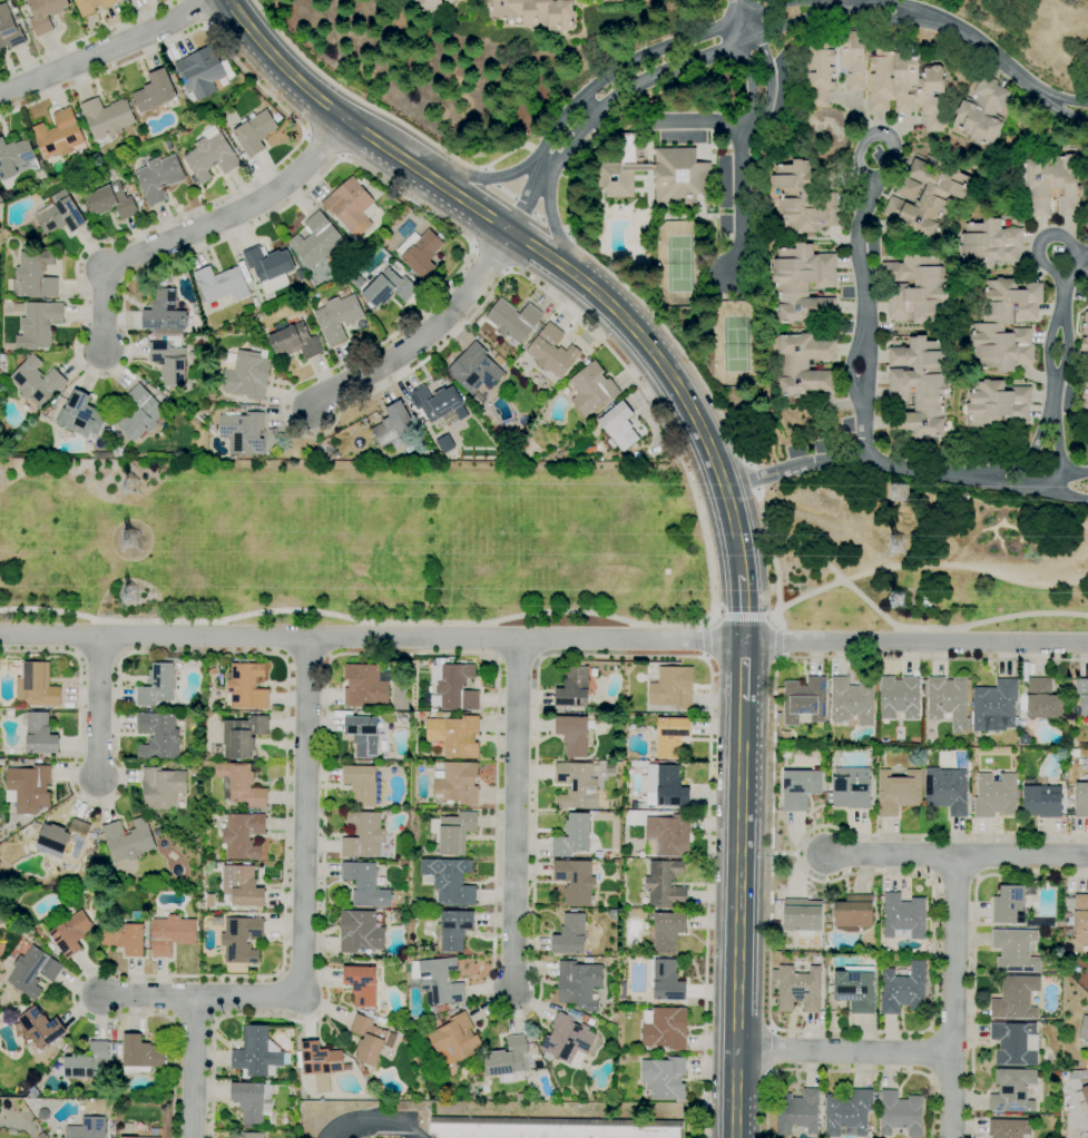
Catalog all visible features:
building: (445, 0)
building: (459, 0)
building: (450, 1)
building: (92, 6)
building: (427, 6)
building: (535, 12)
building: (45, 13)
road: (199, 13)
road: (736, 13)
road: (767, 19)
building: (9, 29)
road: (84, 38)
road: (106, 48)
building: (202, 71)
building: (819, 73)
building: (893, 80)
building: (154, 91)
road: (380, 110)
road: (761, 110)
building: (981, 112)
building: (276, 118)
building: (107, 119)
building: (253, 131)
building: (58, 135)
road: (530, 148)
building: (210, 155)
building: (13, 157)
road: (547, 160)
road: (540, 161)
road: (484, 169)
road: (562, 173)
building: (657, 175)
building: (159, 177)
building: (361, 179)
building: (1050, 183)
building: (131, 188)
building: (906, 188)
road: (741, 192)
building: (804, 198)
building: (932, 198)
building: (110, 202)
road: (523, 205)
building: (350, 206)
building: (61, 214)
road: (198, 227)
road: (569, 235)
building: (316, 241)
building: (989, 244)
road: (536, 248)
building: (421, 252)
park: (680, 264)
building: (268, 267)
building: (35, 275)
building: (300, 275)
building: (222, 284)
building: (803, 284)
building: (915, 286)
building: (386, 287)
road: (861, 303)
building: (165, 314)
road: (651, 314)
building: (337, 317)
building: (513, 320)
building: (38, 325)
building: (988, 326)
building: (1082, 334)
road: (425, 335)
building: (293, 341)
park: (734, 343)
building: (551, 352)
road: (1058, 355)
building: (170, 360)
building: (804, 365)
building: (477, 369)
building: (247, 375)
road: (315, 377)
building: (36, 384)
building: (591, 389)
building: (919, 389)
building: (164, 392)
building: (432, 402)
building: (1085, 402)
building: (996, 404)
building: (58, 406)
building: (478, 411)
building: (140, 414)
building: (80, 415)
building: (392, 425)
building: (618, 428)
building: (269, 431)
building: (106, 432)
building: (243, 433)
building: (114, 438)
building: (634, 445)
building: (102, 454)
building: (636, 455)
road: (903, 464)
road: (753, 477)
power tower: (138, 483)
power tower: (905, 488)
power tower: (138, 542)
power tower: (901, 542)
park: (526, 547)
road: (966, 565)
power tower: (139, 596)
power tower: (903, 599)
road: (871, 605)
road: (743, 608)
road: (774, 615)
road: (742, 616)
road: (778, 617)
road: (543, 638)
road: (706, 639)
road: (778, 641)
road: (777, 658)
road: (307, 659)
road: (744, 670)
building: (212, 671)
building: (158, 684)
building: (37, 686)
building: (364, 686)
building: (246, 687)
building: (453, 687)
building: (672, 687)
building: (574, 688)
building: (1082, 694)
building: (900, 697)
building: (948, 700)
building: (1041, 700)
building: (805, 702)
building: (851, 703)
road: (98, 706)
building: (994, 706)
building: (355, 709)
building: (363, 714)
building: (1022, 729)
building: (40, 735)
building: (363, 735)
building: (454, 735)
building: (574, 735)
building: (158, 736)
building: (243, 736)
building: (670, 736)
building: (785, 736)
building: (819, 737)
building: (1022, 740)
building: (973, 743)
building: (784, 753)
building: (832, 753)
building: (1029, 754)
road: (286, 759)
building: (1080, 761)
building: (363, 763)
building: (195, 776)
building: (455, 783)
building: (241, 784)
building: (362, 784)
building: (577, 785)
building: (28, 786)
building: (668, 786)
building: (161, 788)
building: (800, 789)
building: (898, 792)
building: (947, 792)
building: (850, 793)
building: (994, 796)
building: (1041, 798)
building: (1081, 799)
road: (516, 814)
building: (158, 832)
building: (453, 832)
building: (363, 835)
building: (243, 836)
building: (572, 836)
building: (667, 836)
building: (62, 840)
building: (128, 840)
road: (783, 852)
building: (216, 855)
building: (608, 855)
building: (630, 855)
building: (599, 856)
road: (890, 856)
road: (1021, 860)
building: (403, 863)
building: (217, 865)
road: (303, 869)
building: (450, 881)
building: (575, 881)
building: (665, 883)
building: (365, 885)
building: (242, 886)
building: (148, 901)
building: (209, 901)
building: (600, 901)
building: (1010, 904)
building: (410, 909)
building: (379, 910)
building: (571, 910)
building: (853, 913)
building: (1079, 915)
building: (136, 916)
building: (648, 916)
building: (802, 916)
building: (903, 916)
road: (741, 919)
building: (96, 922)
building: (1041, 923)
building: (776, 924)
building: (453, 930)
building: (666, 931)
building: (69, 932)
building: (360, 932)
building: (1068, 932)
building: (170, 934)
building: (570, 935)
building: (125, 938)
building: (241, 940)
building: (50, 946)
building: (872, 946)
building: (217, 949)
building: (1081, 949)
building: (921, 950)
building: (1016, 951)
road: (973, 953)
building: (590, 959)
building: (33, 971)
building: (242, 971)
building: (829, 975)
building: (438, 980)
road: (488, 981)
building: (667, 981)
building: (361, 984)
building: (579, 984)
building: (797, 988)
building: (856, 988)
building: (903, 989)
building: (623, 990)
road: (147, 995)
building: (1016, 998)
road: (952, 999)
building: (447, 1007)
building: (453, 1007)
building: (21, 1009)
building: (439, 1009)
building: (432, 1010)
building: (434, 1018)
building: (587, 1020)
building: (39, 1028)
building: (666, 1029)
building: (1084, 1029)
road: (817, 1031)
building: (371, 1038)
building: (455, 1041)
building: (569, 1041)
building: (1015, 1043)
road: (845, 1050)
building: (1087, 1050)
road: (772, 1051)
building: (258, 1053)
building: (140, 1054)
building: (508, 1060)
building: (88, 1061)
building: (165, 1062)
building: (320, 1063)
road: (194, 1067)
road: (849, 1070)
building: (480, 1071)
building: (1087, 1073)
building: (551, 1075)
building: (664, 1078)
building: (1066, 1081)
building: (531, 1087)
building: (1012, 1090)
building: (521, 1098)
building: (588, 1098)
building: (1081, 1099)
building: (253, 1101)
building: (109, 1106)
building: (798, 1111)
building: (43, 1114)
building: (847, 1114)
building: (901, 1114)
road: (380, 1122)
building: (88, 1128)
building: (553, 1128)
building: (1008, 1128)
building: (252, 1135)
building: (42, 1136)
building: (145, 1137)

